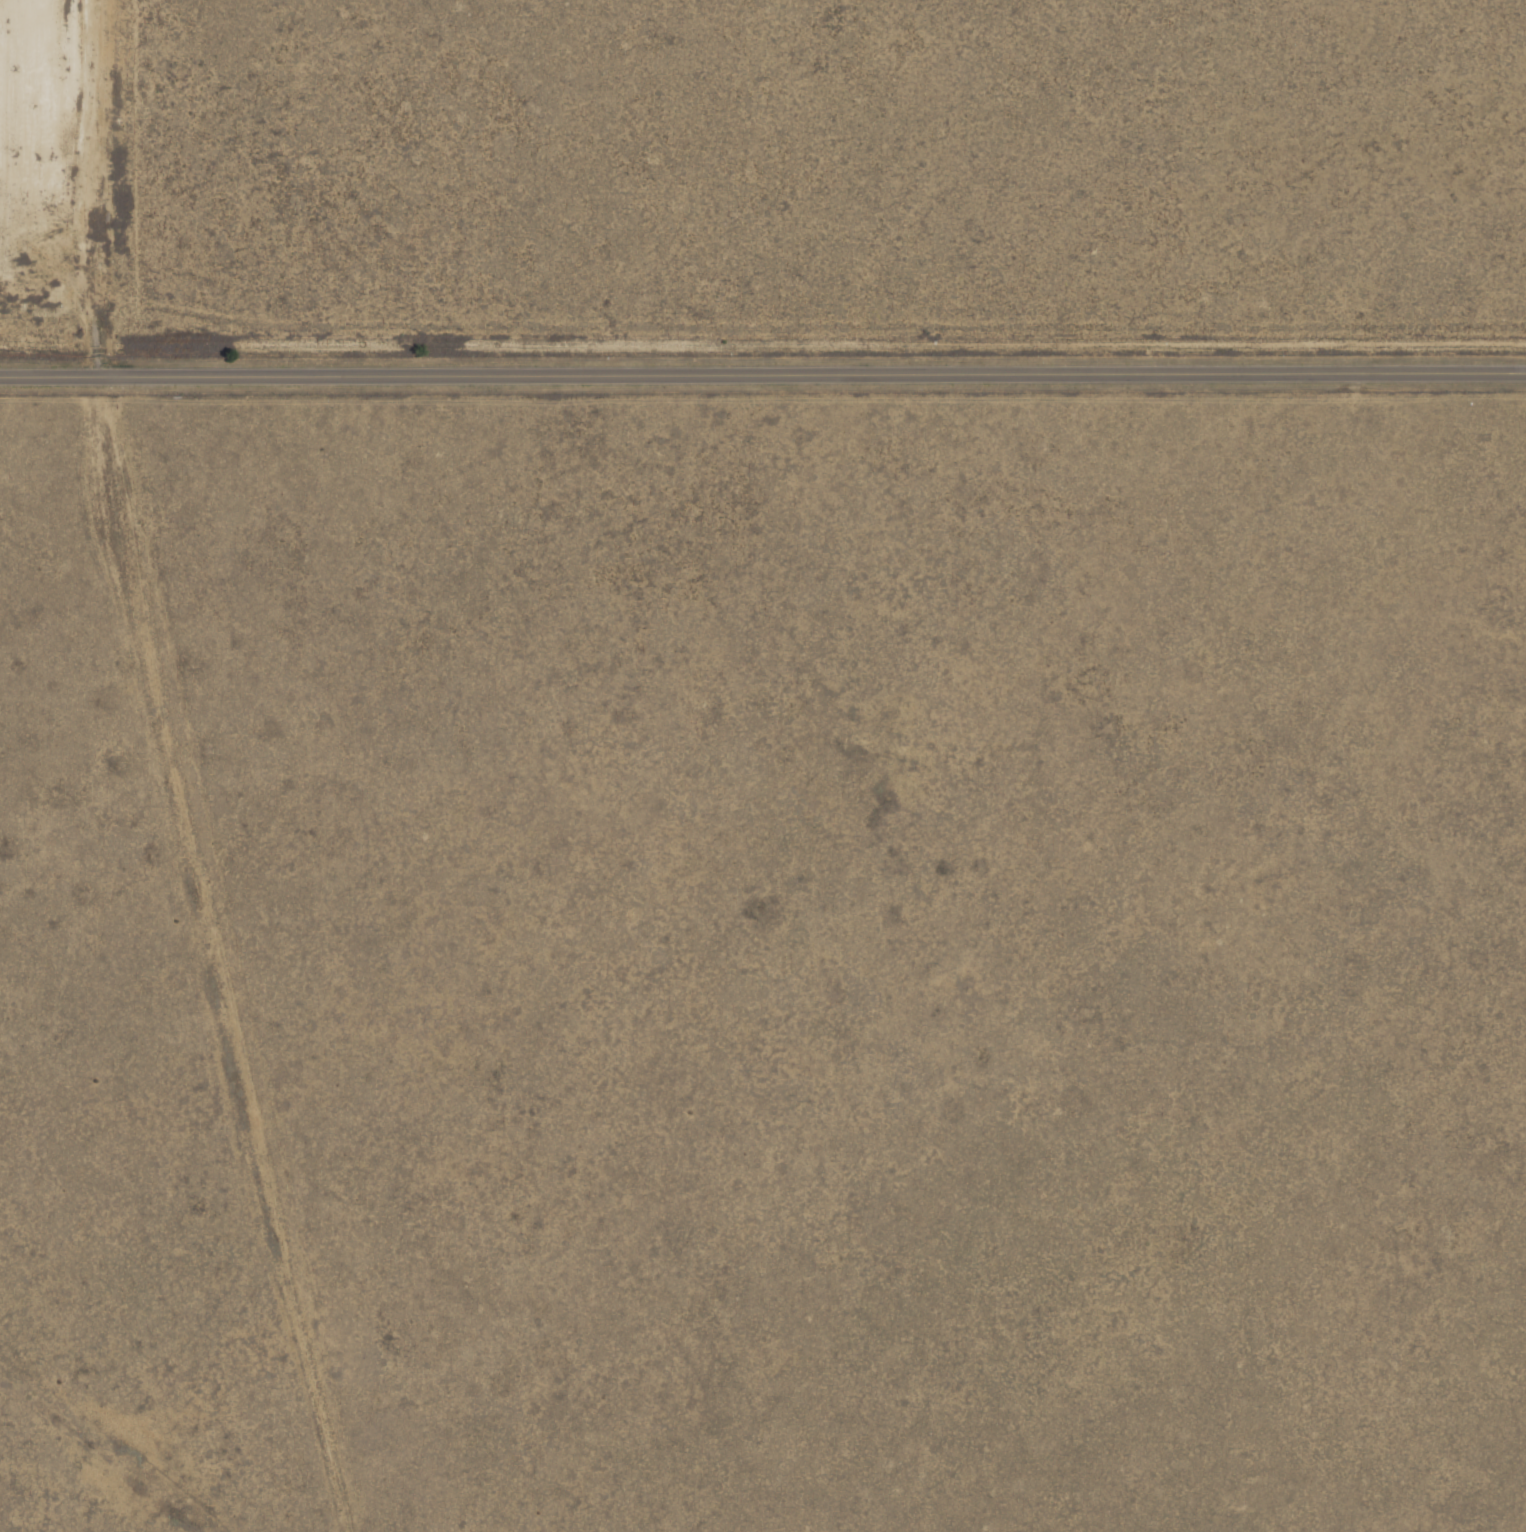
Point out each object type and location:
road: (762, 370)

